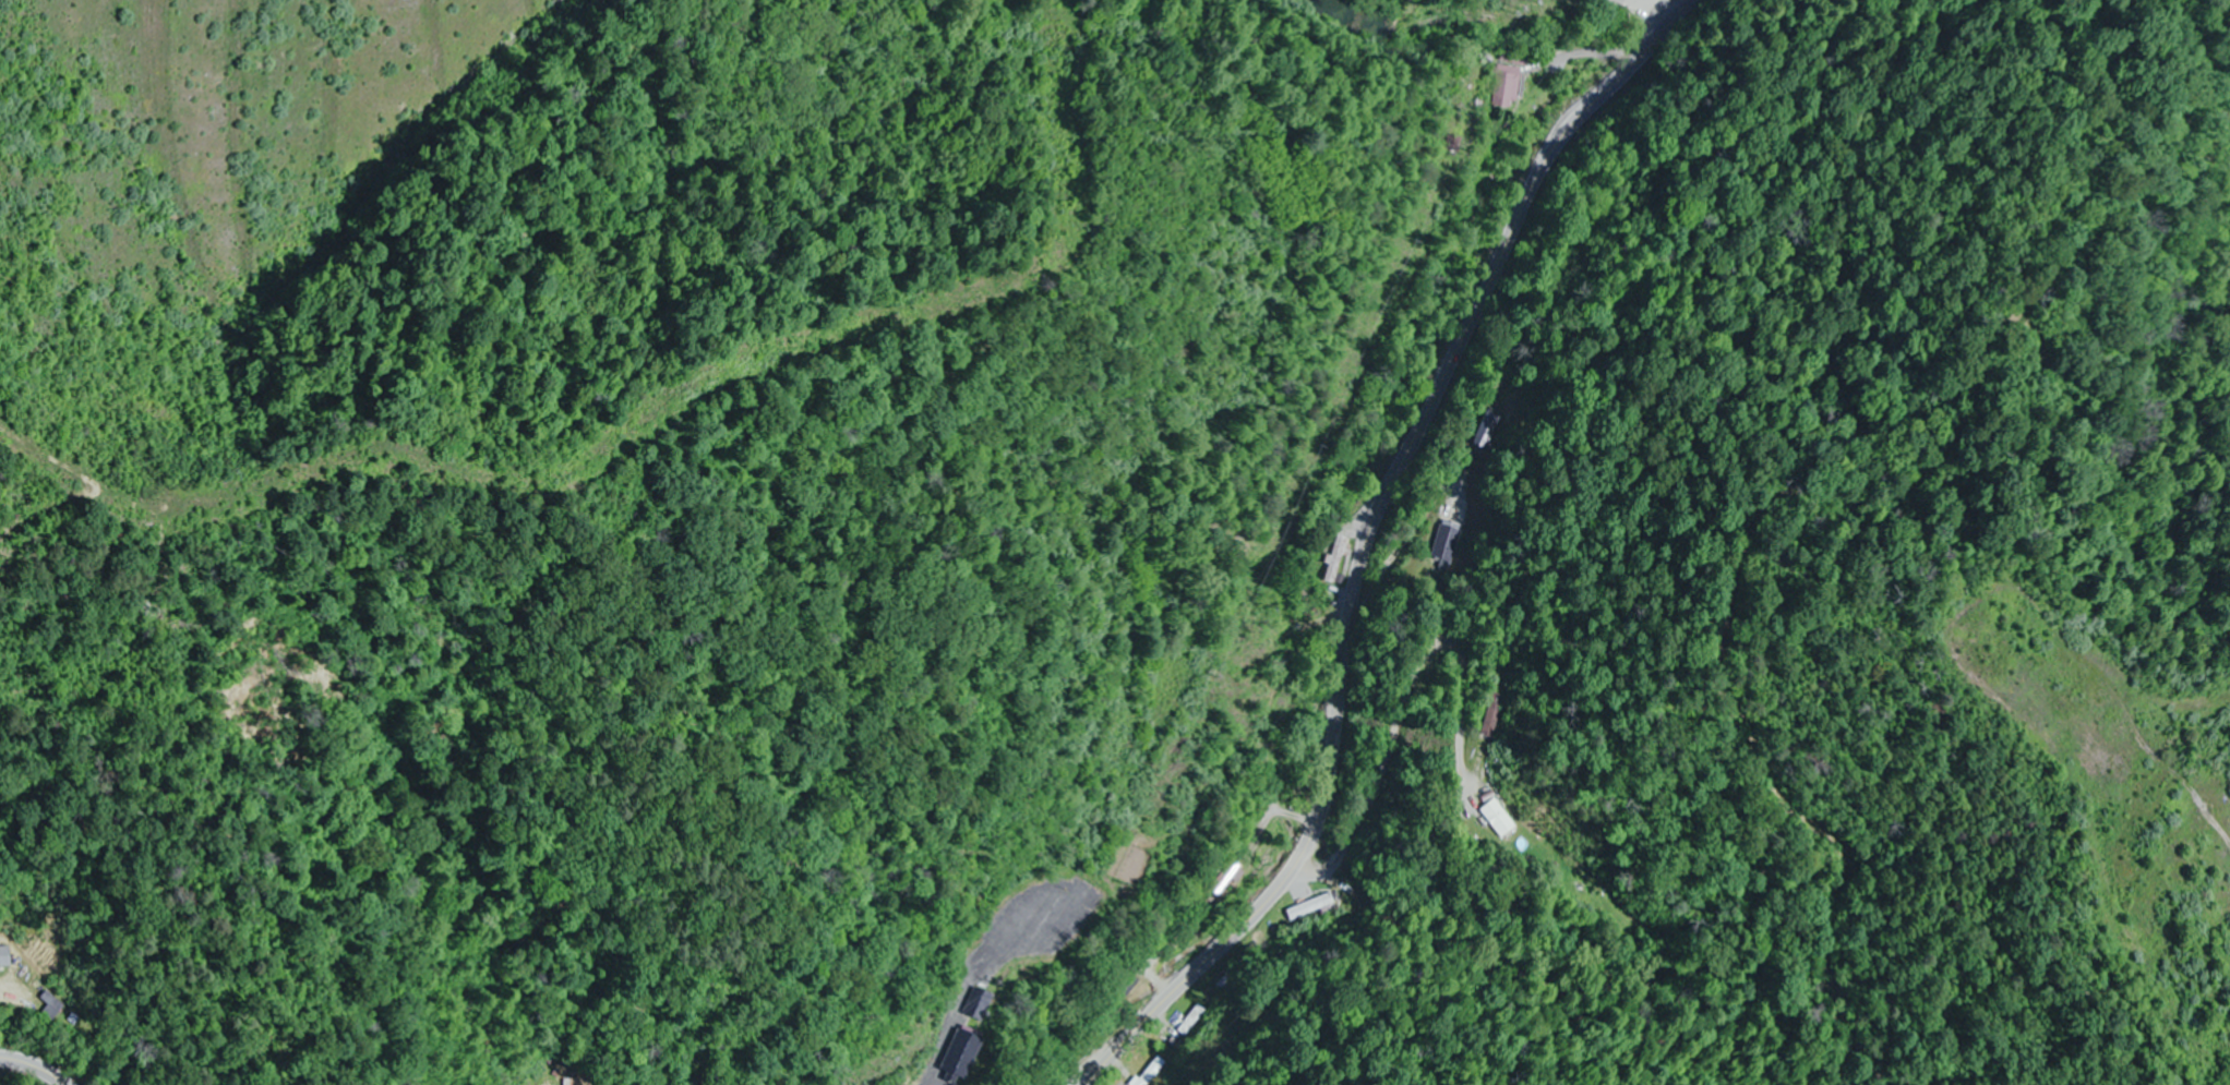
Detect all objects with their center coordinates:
building: (1509, 85)
road: (1368, 539)
building: (1444, 540)
building: (1489, 714)
building: (1487, 810)
building: (1309, 908)
building: (5, 956)
building: (984, 1003)
building: (53, 1006)
building: (1194, 1020)
building: (968, 1052)
road: (38, 1062)

